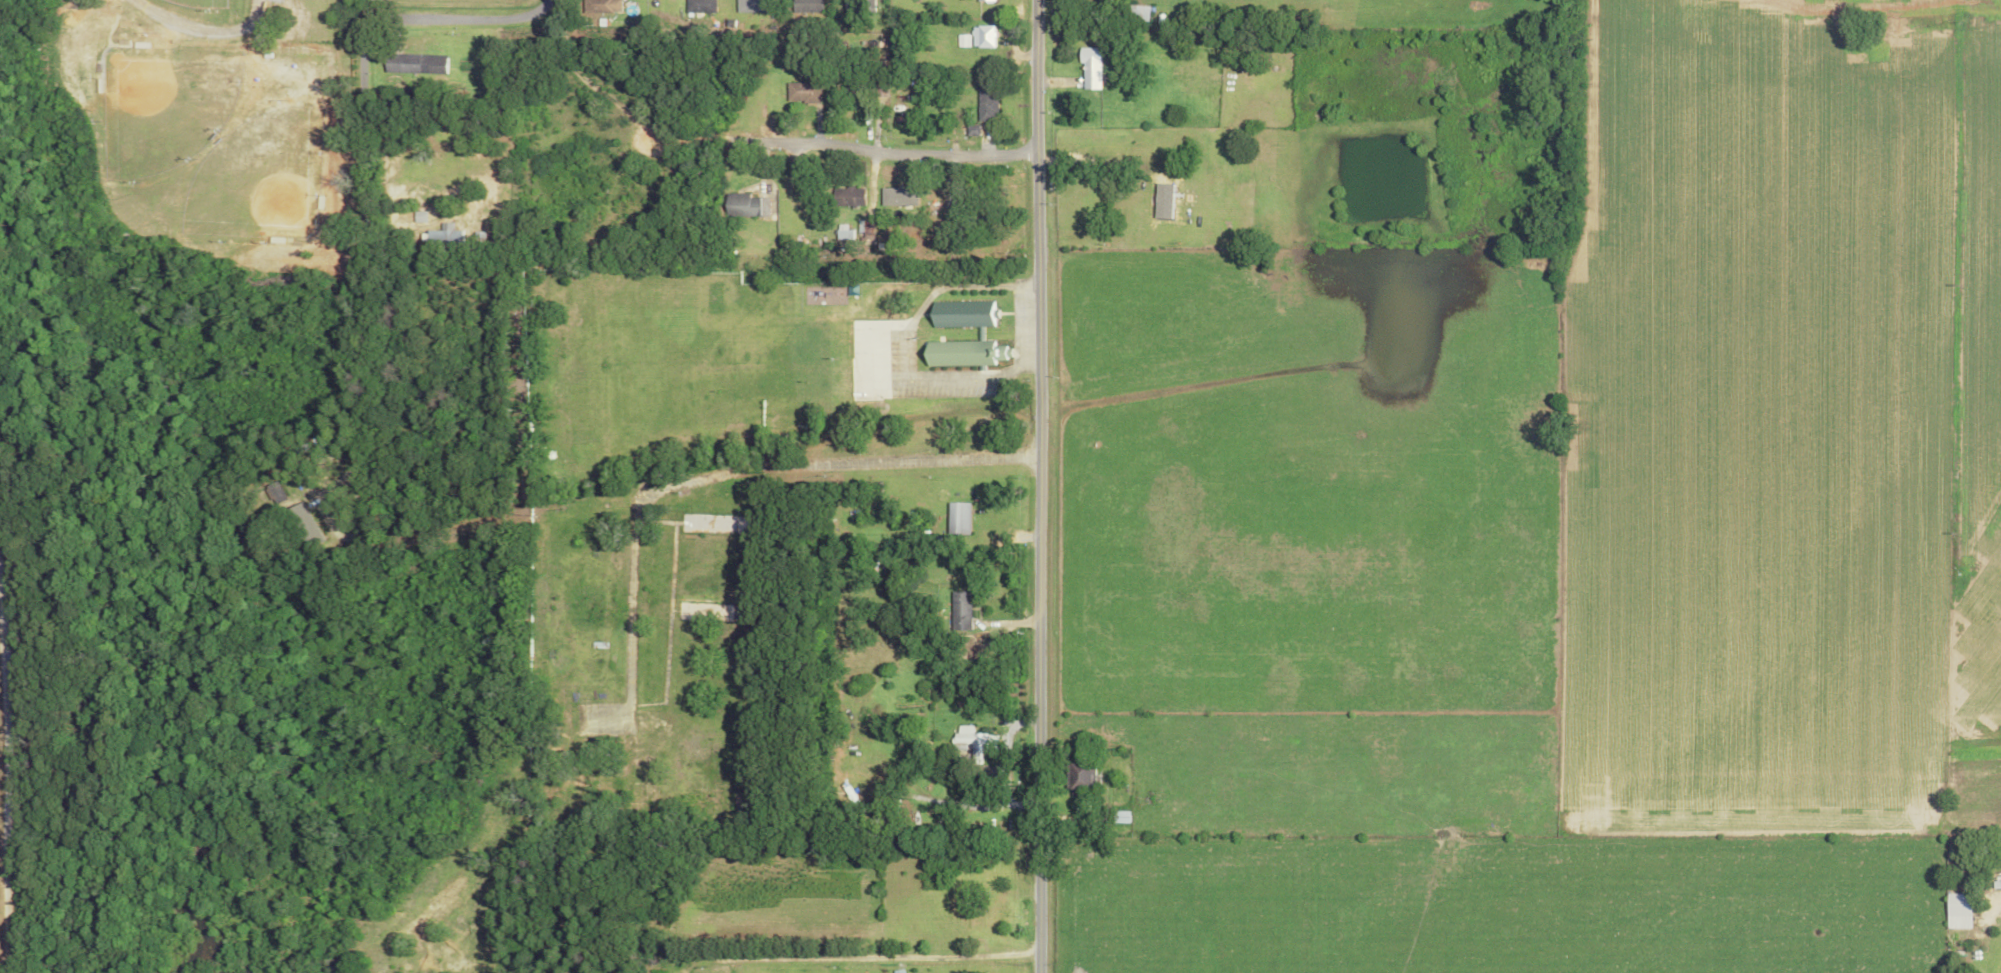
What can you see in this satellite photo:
building: (985, 0)
park: (209, 3)
building: (807, 5)
building: (700, 6)
building: (750, 6)
building: (859, 6)
building: (603, 7)
road: (202, 27)
building: (984, 36)
building: (963, 40)
building: (413, 64)
building: (1091, 67)
building: (802, 92)
building: (987, 102)
road: (792, 146)
road: (364, 148)
road: (945, 153)
building: (894, 196)
building: (846, 197)
building: (743, 205)
building: (842, 232)
building: (442, 235)
building: (960, 314)
building: (961, 353)
road: (723, 482)
road: (1042, 486)
building: (955, 517)
road: (965, 565)
building: (958, 610)
road: (859, 651)
building: (973, 741)
building: (1080, 779)
building: (1119, 816)
building: (1957, 910)
road: (871, 958)

